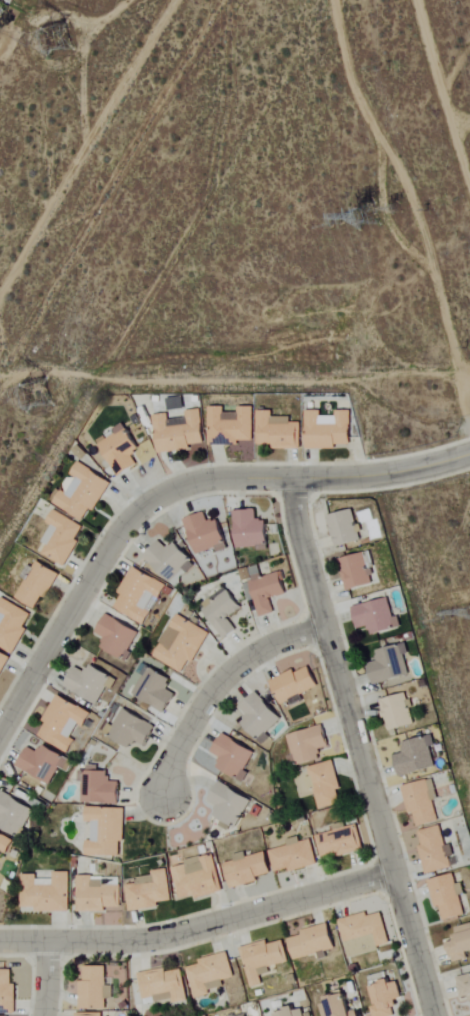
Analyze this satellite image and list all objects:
power tower: (63, 31)
road: (102, 182)
power tower: (396, 209)
power tower: (362, 215)
power tower: (343, 227)
power tower: (42, 404)
building: (231, 426)
building: (329, 430)
building: (278, 431)
building: (180, 432)
building: (121, 450)
road: (383, 478)
building: (82, 491)
road: (163, 495)
building: (345, 528)
building: (250, 529)
building: (206, 534)
building: (62, 538)
building: (170, 562)
building: (356, 571)
building: (38, 584)
building: (268, 592)
building: (139, 594)
building: (223, 612)
power tower: (453, 616)
building: (377, 617)
building: (12, 625)
building: (117, 636)
building: (182, 643)
building: (3, 662)
building: (390, 665)
building: (89, 683)
building: (295, 684)
road: (217, 685)
building: (155, 691)
building: (398, 712)
building: (260, 717)
building: (63, 723)
building: (131, 729)
building: (308, 745)
building: (416, 756)
building: (234, 757)
building: (44, 763)
building: (325, 784)
building: (99, 788)
building: (421, 803)
building: (230, 804)
building: (13, 815)
road: (380, 822)
building: (106, 832)
building: (340, 841)
building: (4, 845)
building: (435, 850)
building: (295, 856)
building: (247, 869)
building: (198, 878)
building: (150, 892)
building: (47, 893)
building: (97, 895)
building: (447, 897)
road: (199, 926)
building: (364, 934)
building: (313, 942)
building: (461, 944)
building: (263, 959)
building: (209, 973)
road: (45, 978)
building: (163, 986)
building: (465, 987)
building: (94, 988)
building: (7, 993)
building: (387, 999)
building: (338, 1007)
building: (294, 1013)
building: (90, 1014)

